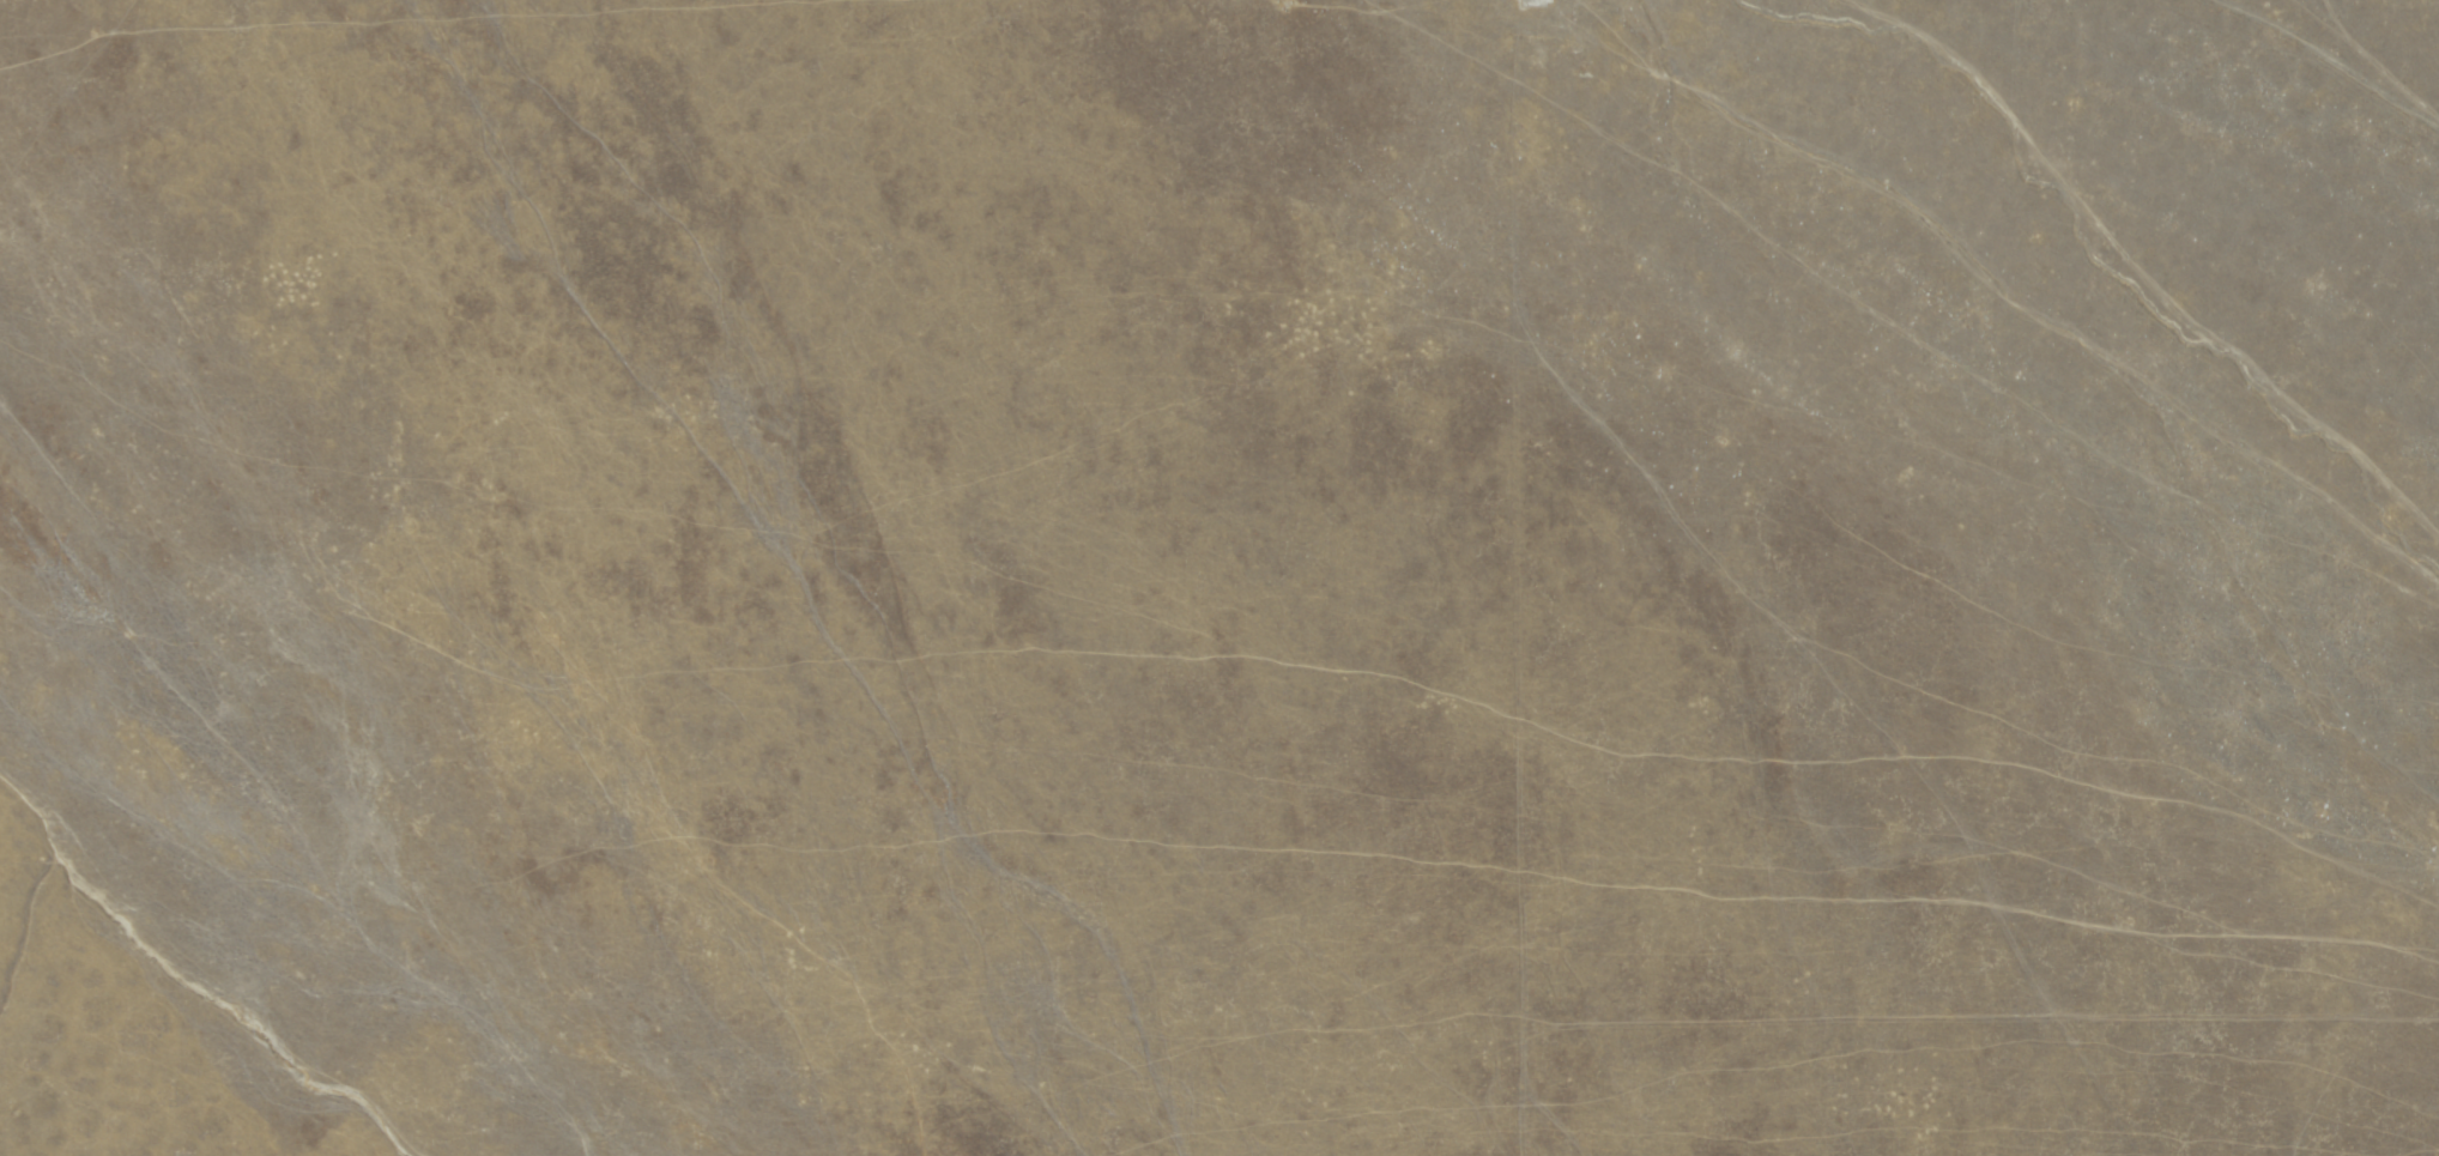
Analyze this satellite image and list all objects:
road: (2323, 61)

